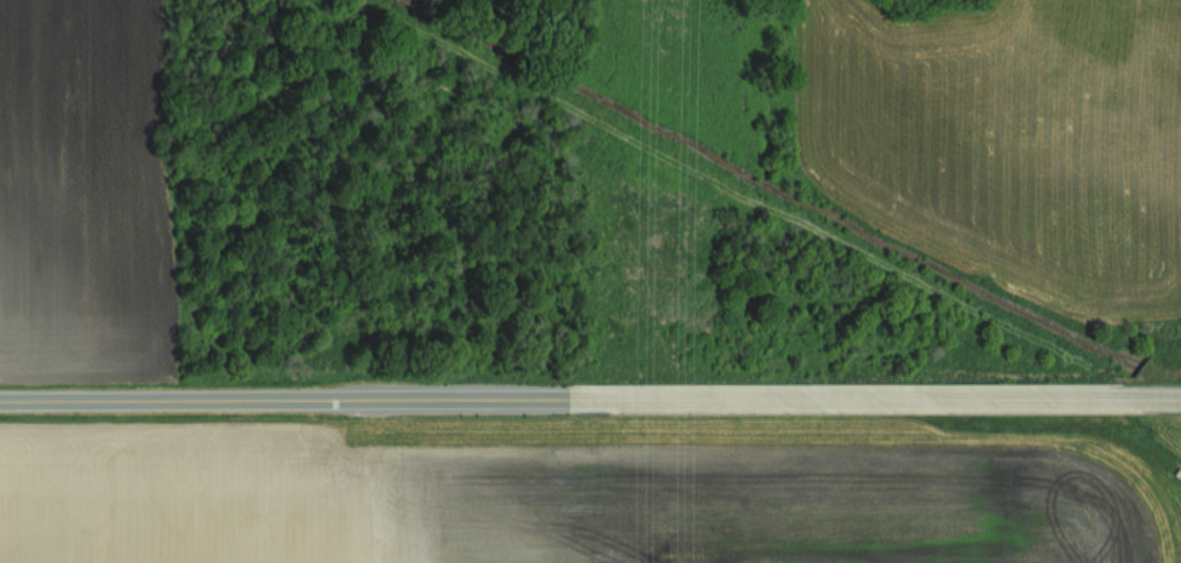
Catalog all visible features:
road: (590, 401)

